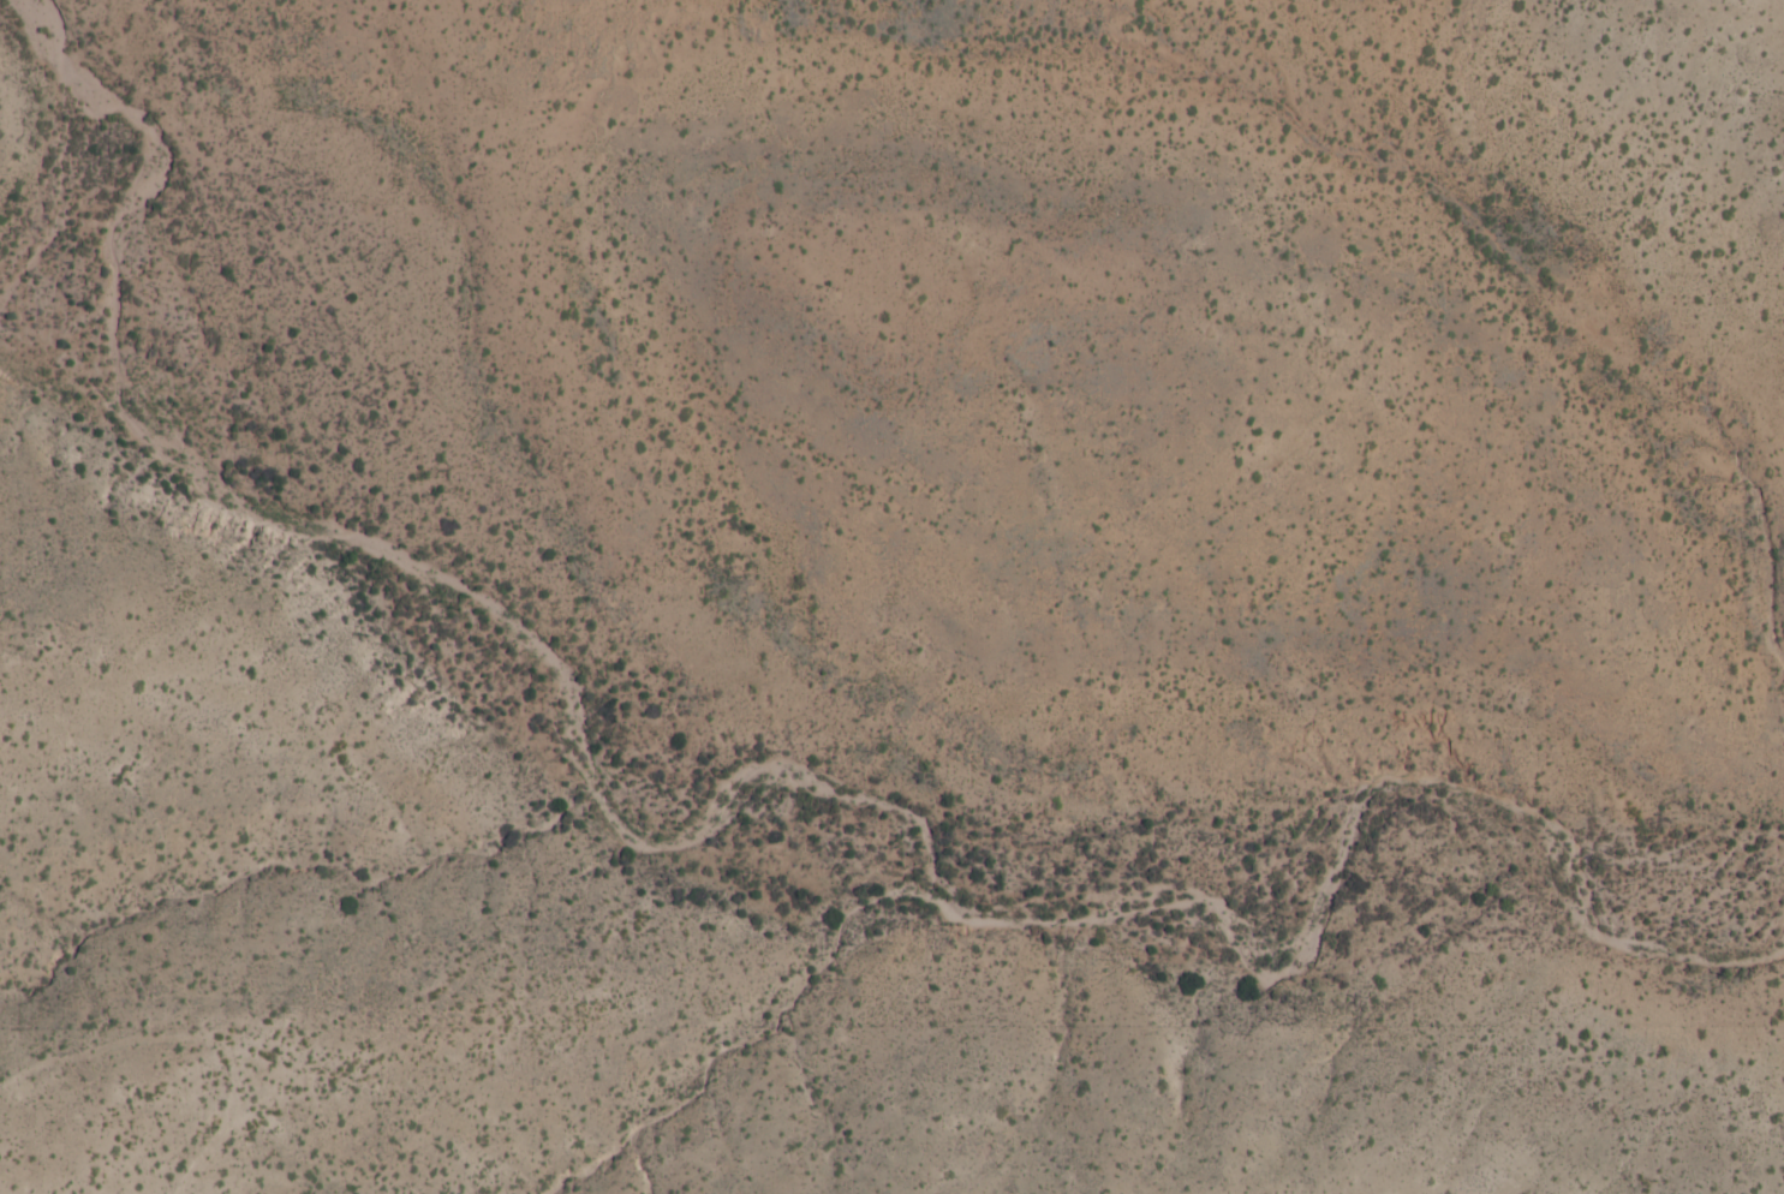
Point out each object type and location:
road: (193, 1031)

